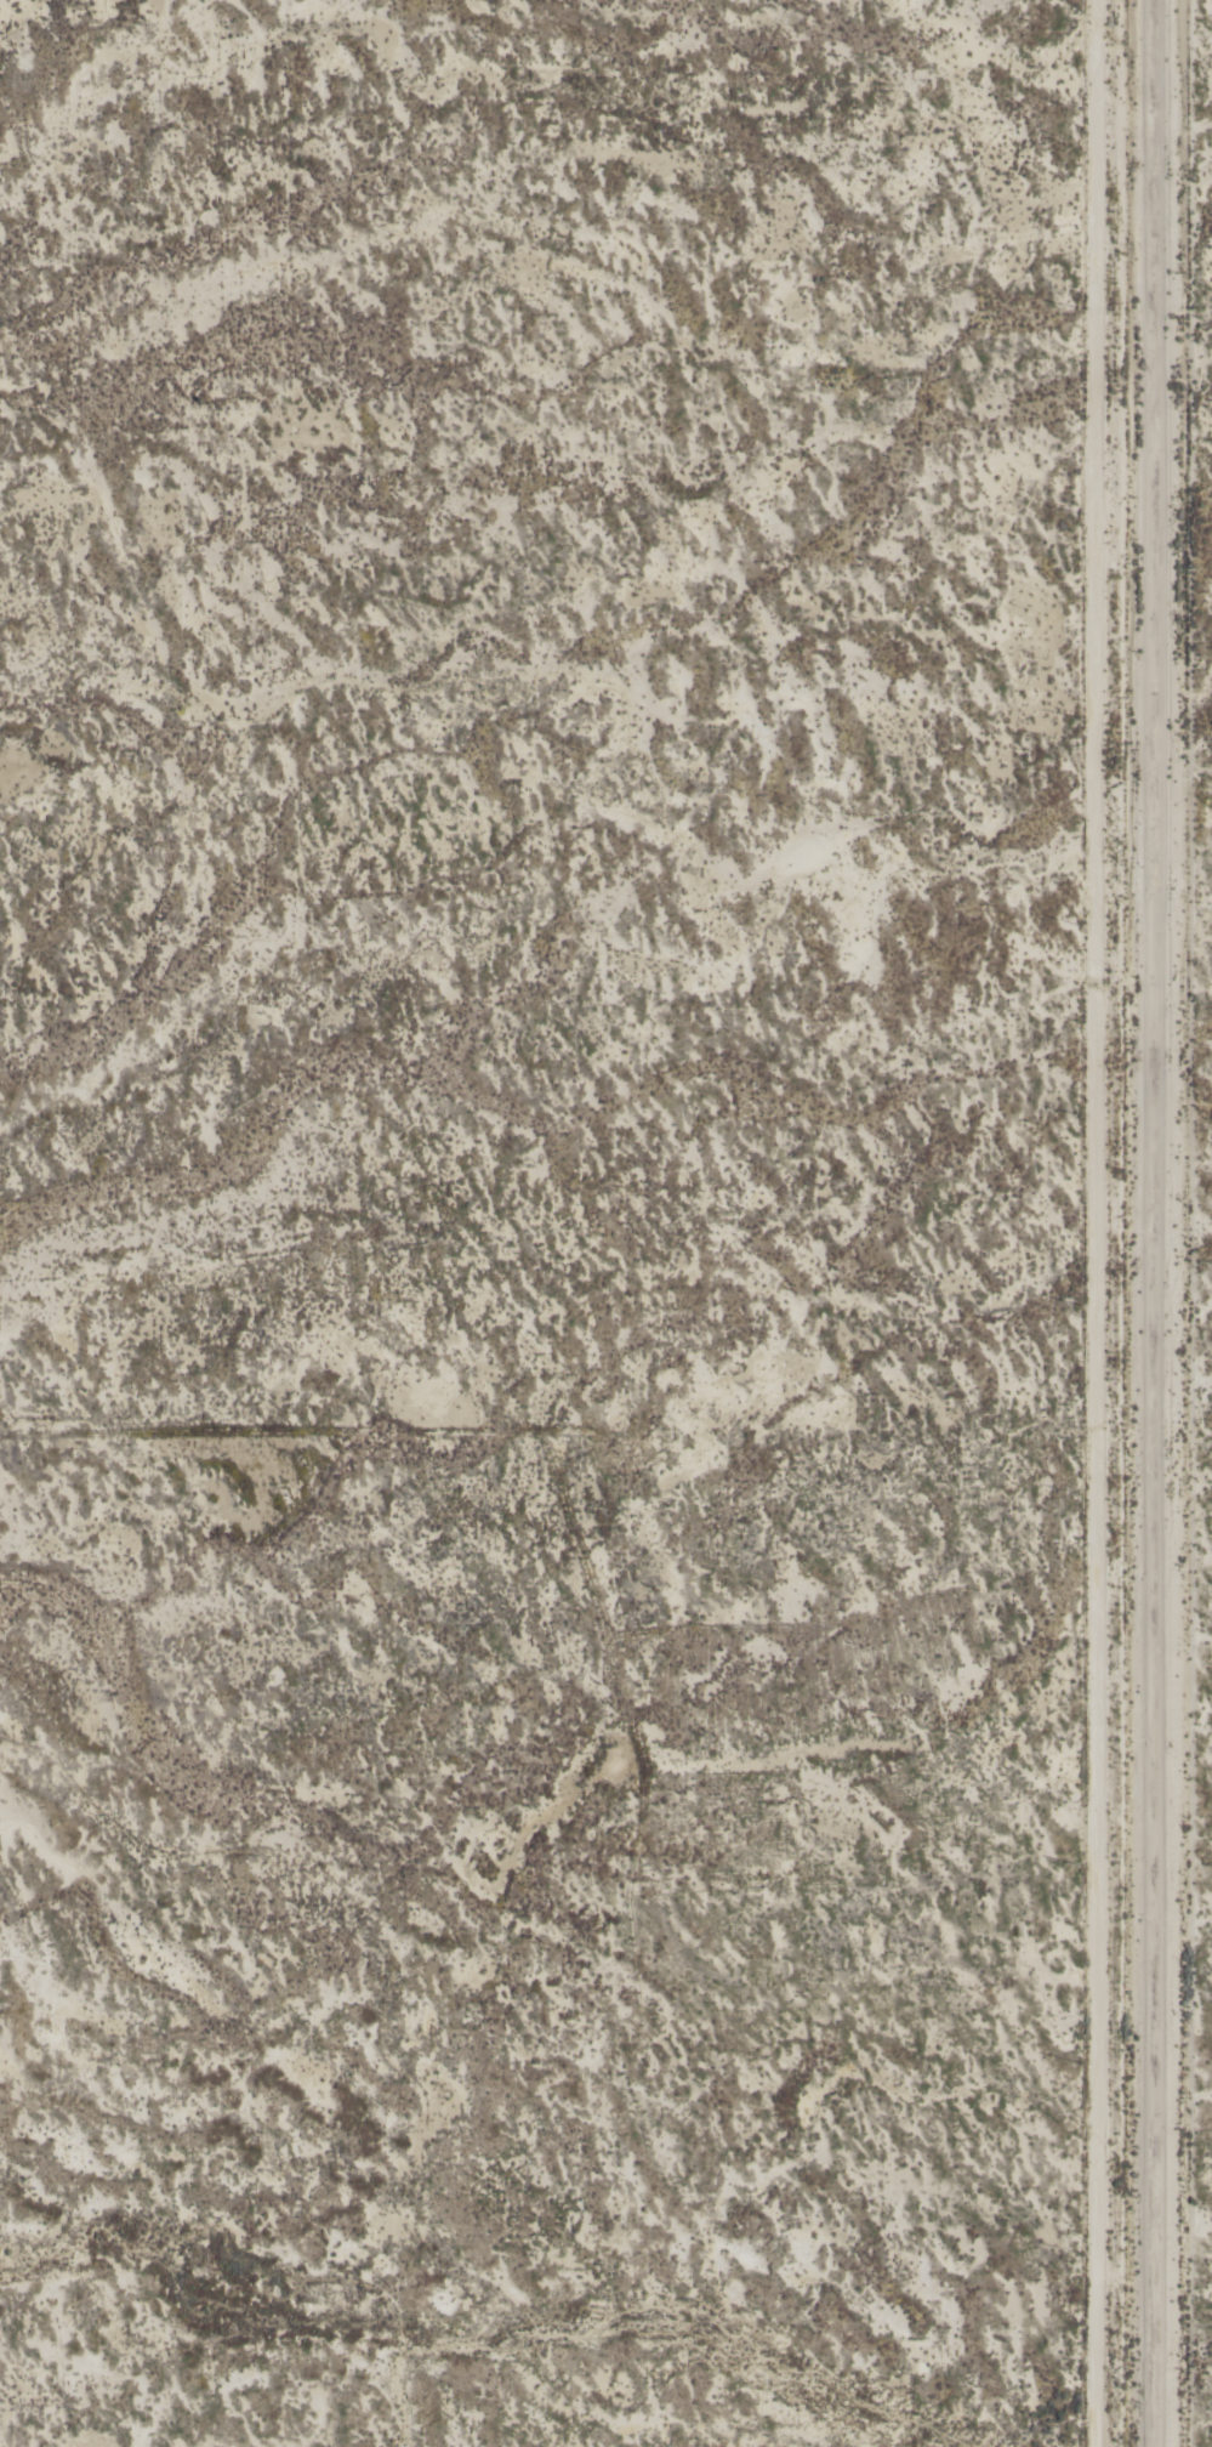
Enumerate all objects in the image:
road: (1091, 1223)
road: (1157, 1223)

